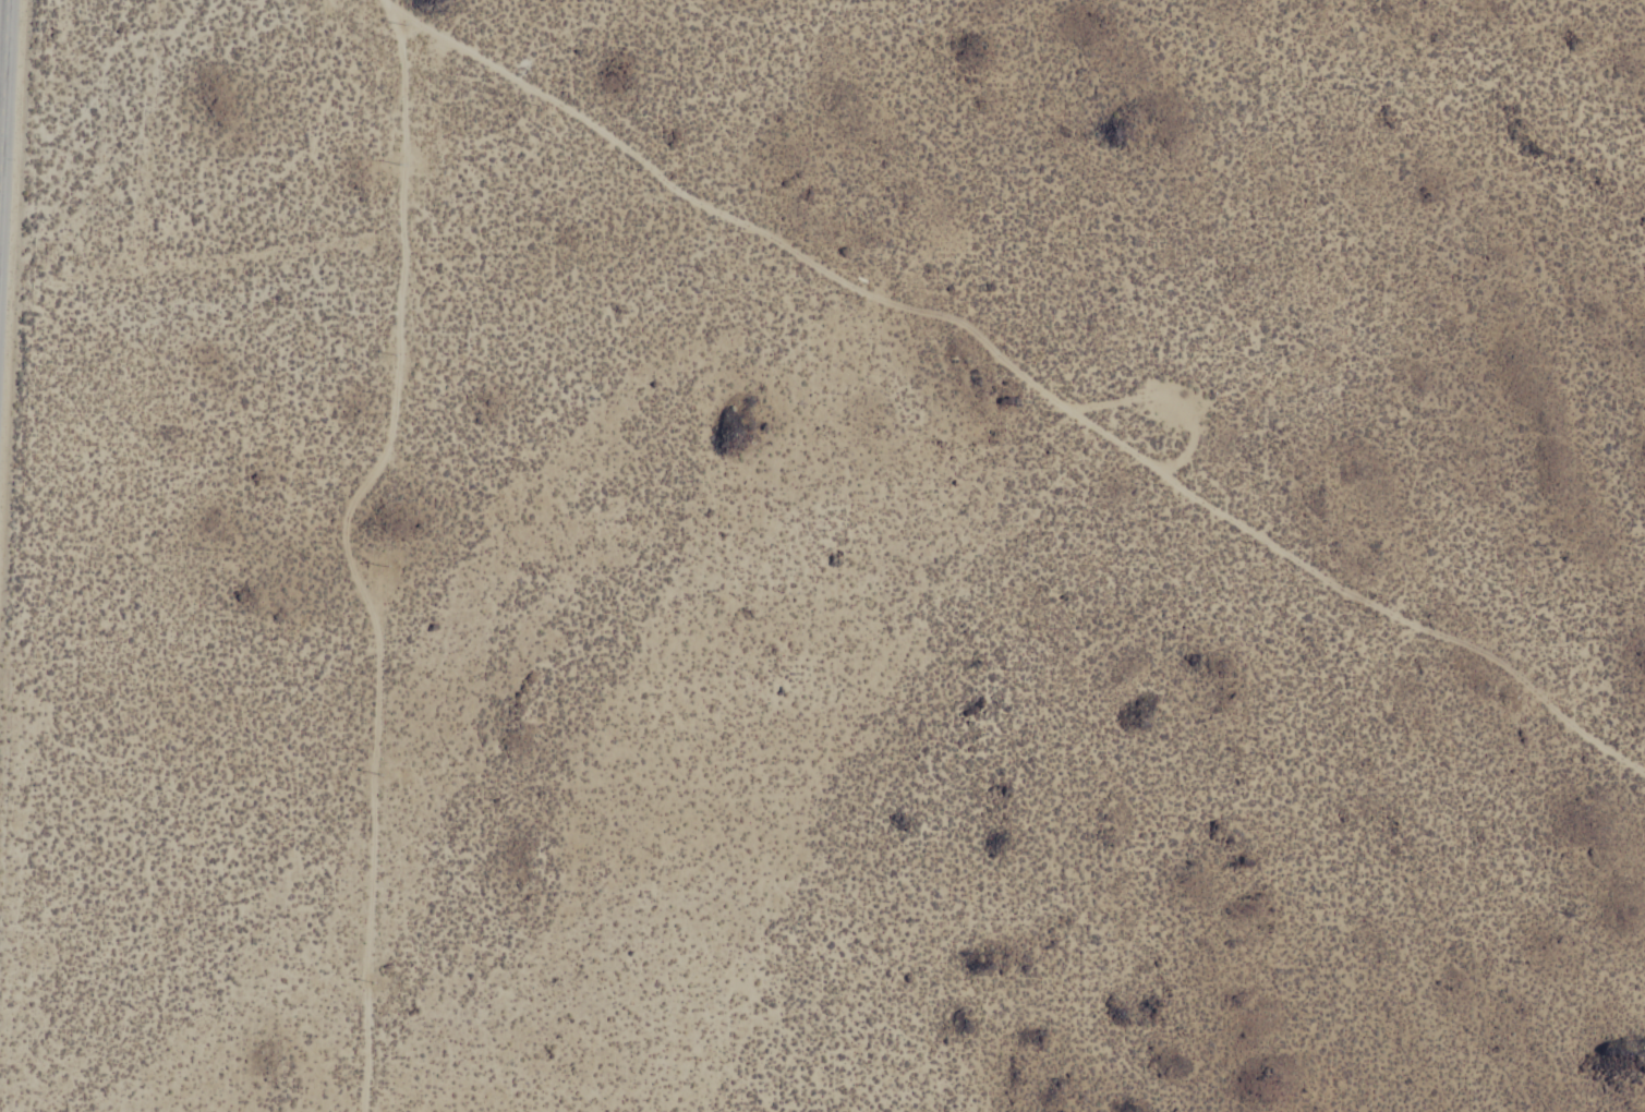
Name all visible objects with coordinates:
road: (4, 112)
road: (1026, 365)
road: (348, 549)

